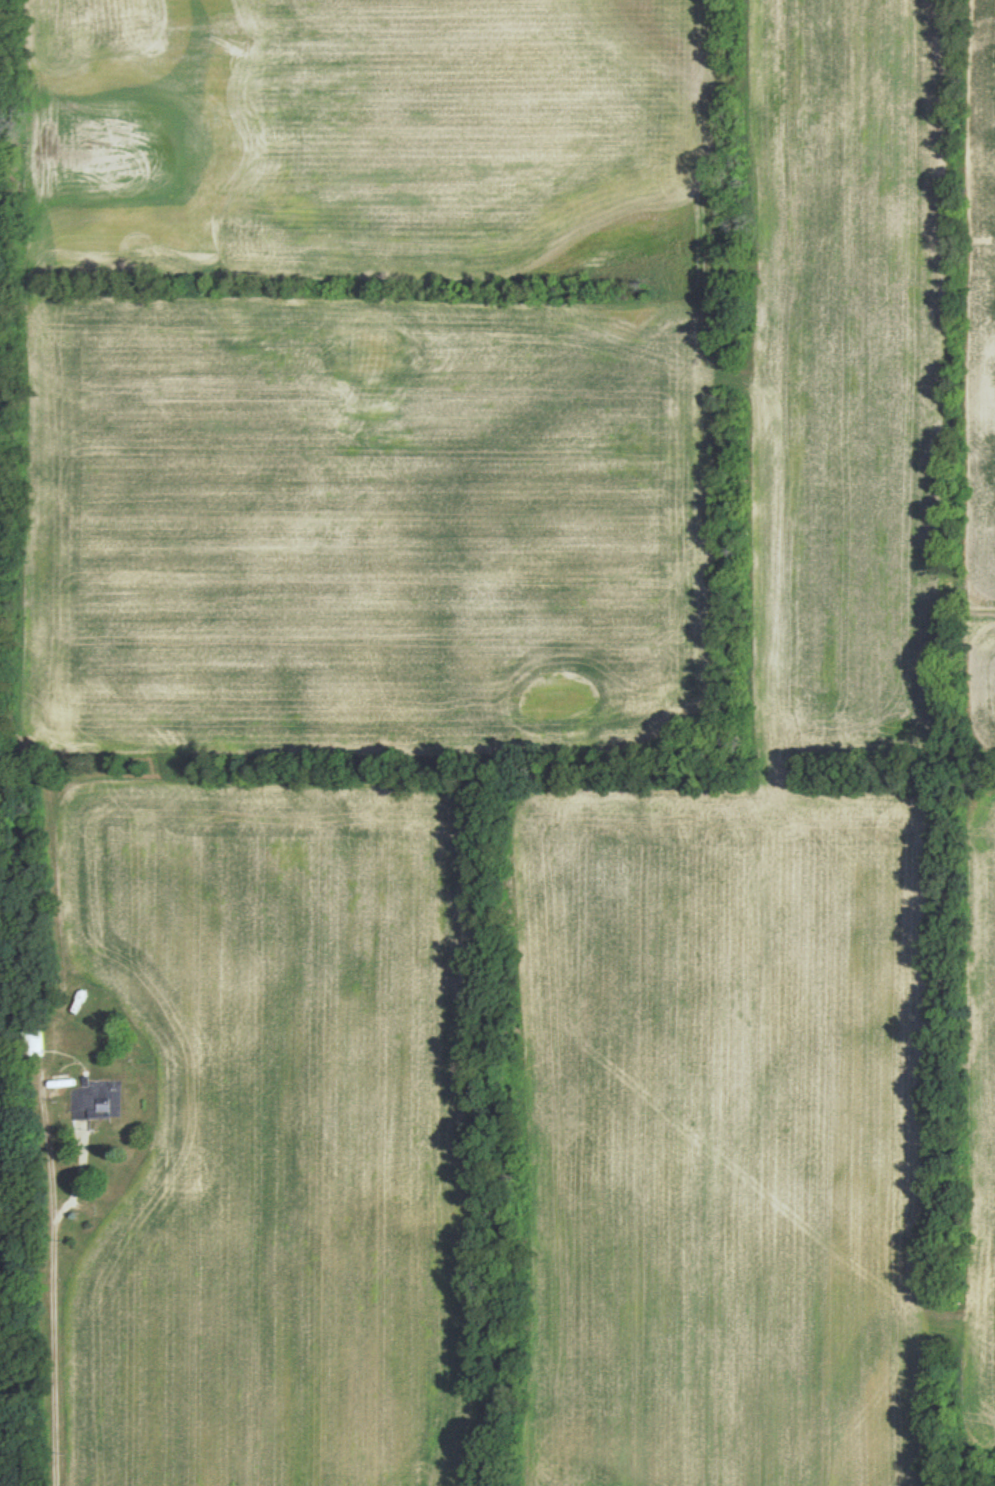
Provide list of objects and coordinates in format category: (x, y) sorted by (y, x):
building: (31, 1043)
road: (53, 1312)

